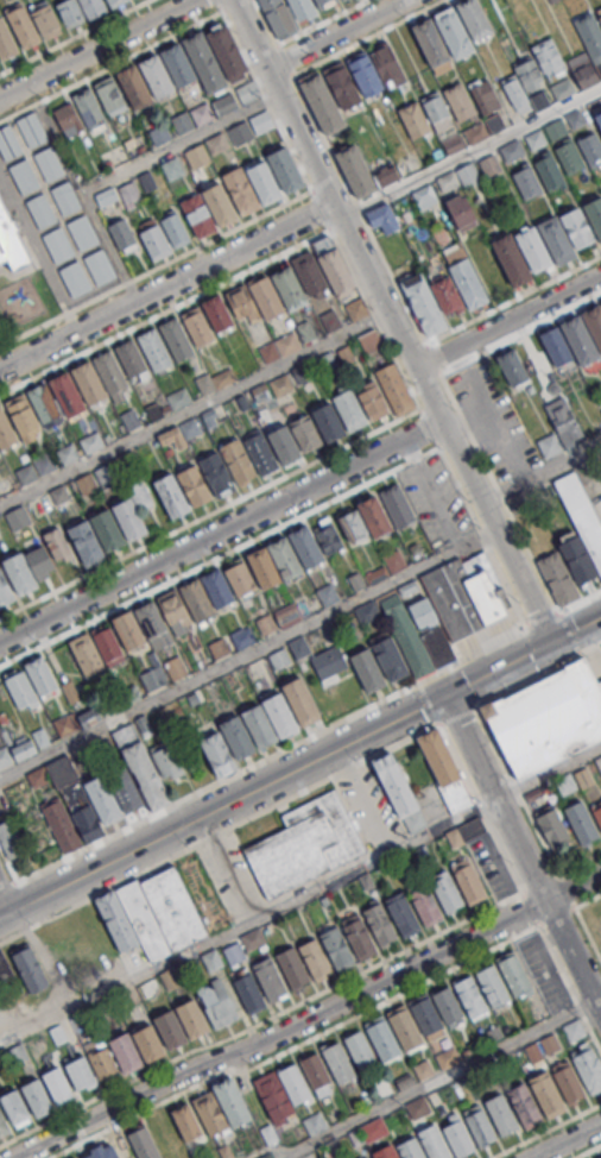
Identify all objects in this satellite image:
building: (118, 2)
building: (323, 2)
road: (220, 5)
building: (302, 8)
building: (78, 11)
building: (278, 17)
building: (473, 18)
building: (600, 18)
building: (45, 19)
road: (201, 21)
road: (321, 21)
building: (25, 27)
building: (453, 31)
road: (337, 34)
road: (72, 36)
road: (273, 37)
building: (590, 37)
building: (7, 42)
building: (434, 46)
road: (100, 50)
building: (229, 54)
building: (548, 56)
building: (207, 63)
building: (181, 64)
building: (583, 69)
building: (527, 71)
building: (367, 75)
building: (158, 76)
building: (344, 84)
building: (137, 87)
building: (562, 88)
building: (246, 92)
building: (515, 93)
building: (483, 94)
building: (113, 96)
building: (539, 100)
building: (458, 101)
building: (223, 102)
building: (325, 105)
building: (437, 112)
building: (80, 113)
building: (202, 113)
building: (574, 118)
building: (599, 118)
building: (415, 120)
building: (261, 121)
building: (182, 122)
building: (494, 122)
building: (31, 128)
building: (556, 128)
building: (239, 132)
building: (475, 132)
road: (321, 133)
building: (158, 134)
building: (536, 139)
building: (8, 143)
road: (181, 143)
building: (216, 144)
building: (451, 144)
building: (590, 147)
building: (511, 150)
road: (469, 152)
building: (195, 156)
building: (570, 157)
building: (49, 163)
building: (488, 163)
building: (171, 168)
building: (549, 170)
building: (287, 171)
building: (359, 171)
building: (467, 172)
building: (24, 177)
building: (449, 181)
building: (526, 182)
building: (266, 183)
building: (116, 194)
building: (245, 194)
building: (424, 195)
building: (65, 197)
building: (222, 206)
building: (42, 209)
building: (460, 212)
building: (595, 213)
building: (200, 216)
building: (382, 218)
building: (577, 227)
building: (175, 229)
building: (82, 231)
building: (122, 235)
building: (556, 240)
building: (12, 241)
building: (57, 244)
road: (112, 248)
building: (532, 248)
road: (175, 258)
building: (511, 259)
building: (100, 265)
road: (253, 268)
building: (311, 273)
building: (74, 277)
building: (468, 284)
building: (292, 289)
road: (167, 291)
building: (423, 303)
road: (498, 306)
building: (355, 308)
building: (217, 313)
road: (391, 321)
road: (507, 321)
building: (594, 322)
building: (200, 328)
building: (178, 340)
building: (578, 340)
building: (369, 341)
building: (556, 346)
building: (279, 347)
building: (156, 351)
building: (134, 361)
building: (512, 366)
building: (112, 373)
building: (216, 379)
building: (90, 384)
building: (394, 388)
building: (69, 395)
building: (179, 398)
building: (46, 405)
road: (192, 409)
building: (349, 410)
road: (460, 411)
building: (25, 418)
building: (559, 428)
building: (6, 432)
building: (295, 439)
building: (91, 441)
building: (260, 452)
road: (550, 466)
building: (227, 467)
building: (194, 485)
building: (171, 495)
road: (229, 503)
building: (397, 504)
road: (308, 511)
building: (581, 514)
building: (132, 521)
building: (365, 521)
building: (109, 531)
road: (221, 531)
building: (328, 535)
building: (284, 556)
building: (577, 559)
building: (21, 577)
building: (557, 579)
building: (356, 580)
building: (409, 586)
building: (5, 591)
building: (328, 593)
building: (466, 593)
road: (580, 600)
building: (182, 608)
building: (394, 609)
building: (367, 612)
building: (423, 612)
road: (544, 618)
road: (568, 631)
traffic signals: (550, 642)
building: (438, 644)
building: (299, 647)
road: (590, 647)
building: (96, 649)
building: (415, 652)
road: (473, 653)
road: (247, 654)
building: (390, 657)
building: (279, 659)
building: (329, 665)
building: (176, 667)
building: (368, 669)
building: (40, 675)
building: (153, 678)
road: (527, 679)
building: (20, 688)
traffic signals: (444, 696)
building: (300, 700)
road: (428, 701)
building: (280, 713)
road: (456, 713)
building: (548, 716)
building: (77, 720)
building: (259, 725)
building: (238, 736)
building: (29, 745)
building: (217, 754)
building: (4, 757)
building: (167, 761)
road: (300, 766)
building: (443, 769)
road: (548, 772)
building: (37, 775)
building: (146, 775)
building: (67, 782)
road: (215, 782)
building: (394, 785)
building: (125, 789)
road: (366, 798)
building: (102, 800)
road: (480, 806)
building: (596, 810)
building: (581, 820)
building: (87, 823)
building: (556, 823)
building: (62, 825)
road: (219, 831)
road: (538, 832)
building: (11, 838)
building: (303, 844)
road: (521, 855)
road: (580, 863)
road: (8, 864)
road: (227, 867)
building: (467, 879)
road: (539, 882)
road: (6, 886)
road: (572, 887)
building: (445, 888)
road: (588, 900)
road: (5, 902)
building: (424, 904)
building: (173, 907)
building: (400, 914)
road: (556, 914)
building: (144, 919)
building: (115, 920)
road: (247, 921)
building: (379, 923)
building: (358, 936)
building: (243, 945)
building: (337, 948)
building: (314, 957)
building: (211, 959)
building: (291, 967)
building: (29, 969)
road: (561, 970)
building: (512, 971)
building: (6, 973)
building: (268, 977)
building: (492, 984)
building: (247, 990)
building: (470, 996)
road: (597, 997)
building: (216, 1003)
building: (447, 1003)
building: (424, 1015)
building: (190, 1017)
road: (261, 1019)
building: (170, 1028)
building: (404, 1028)
road: (280, 1030)
building: (381, 1039)
building: (148, 1043)
road: (295, 1045)
building: (125, 1051)
building: (360, 1051)
building: (448, 1057)
building: (101, 1062)
building: (339, 1063)
building: (314, 1069)
building: (588, 1070)
building: (81, 1074)
building: (568, 1080)
building: (56, 1083)
building: (293, 1083)
road: (420, 1087)
building: (546, 1094)
building: (36, 1095)
building: (273, 1095)
building: (232, 1101)
building: (12, 1106)
building: (524, 1106)
building: (209, 1113)
building: (501, 1113)
building: (4, 1121)
building: (185, 1121)
building: (315, 1122)
building: (480, 1126)
road: (544, 1129)
building: (457, 1139)
building: (434, 1141)
road: (568, 1141)
building: (141, 1144)
building: (410, 1148)
road: (586, 1150)
building: (385, 1152)
building: (95, 1153)
road: (279, 1153)
building: (266, 1156)
building: (363, 1156)
building: (76, 1157)
building: (368, 1157)

